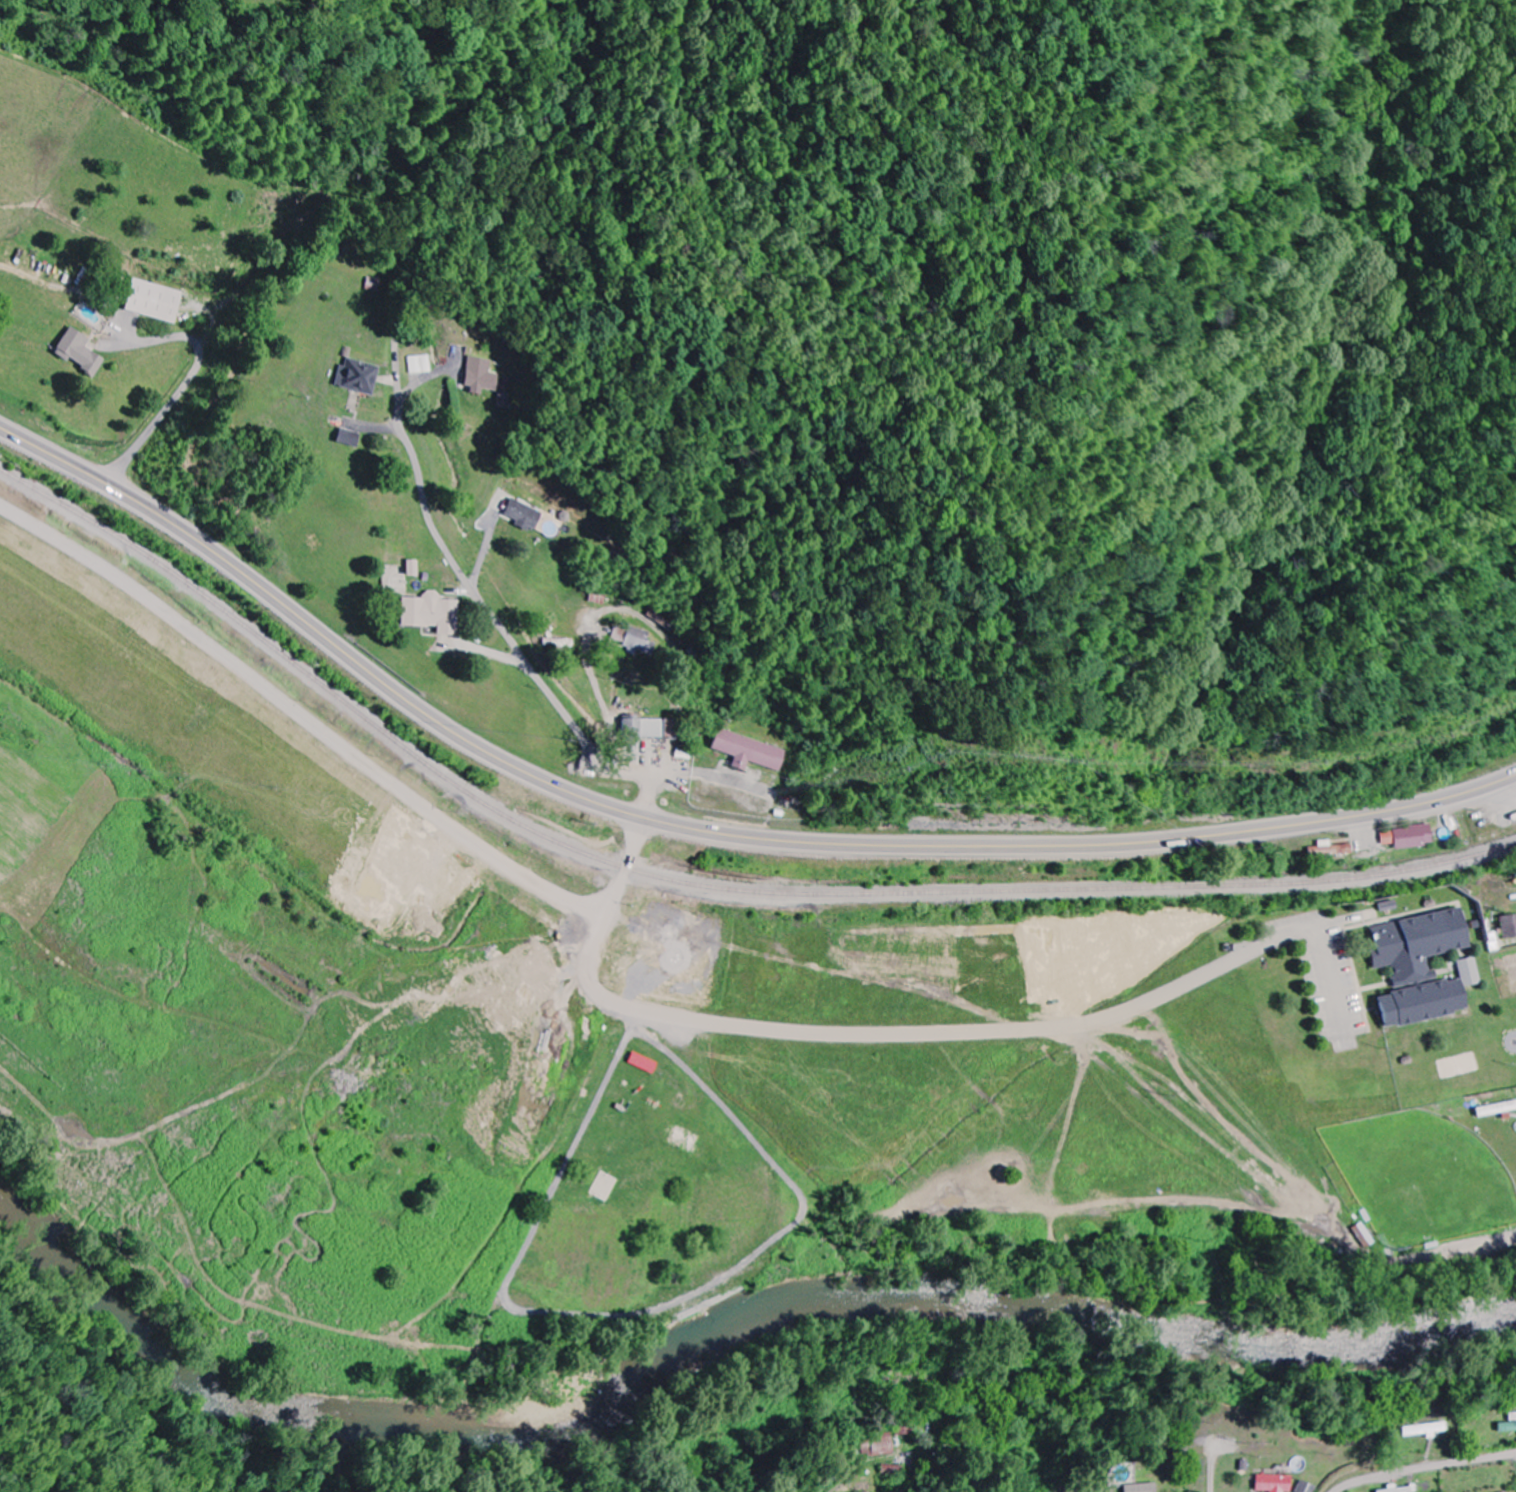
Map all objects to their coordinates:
building: (152, 300)
building: (77, 352)
building: (418, 364)
building: (355, 376)
building: (479, 376)
road: (184, 387)
building: (345, 438)
building: (523, 515)
building: (411, 567)
road: (487, 609)
building: (428, 613)
building: (636, 640)
road: (301, 711)
building: (651, 728)
building: (749, 751)
road: (704, 830)
building: (1409, 836)
building: (1332, 851)
railway: (699, 883)
building: (1509, 926)
building: (1424, 967)
road: (1196, 980)
road: (743, 1026)
building: (644, 1063)
building: (1496, 1109)
park: (651, 1198)
building: (1363, 1235)
river: (715, 1324)
building: (1514, 1415)
building: (1427, 1429)
building: (878, 1446)
road: (856, 1467)
road: (1427, 1467)
building: (892, 1470)
building: (1276, 1483)
building: (1142, 1487)
building: (1307, 1487)
building: (1396, 1489)

